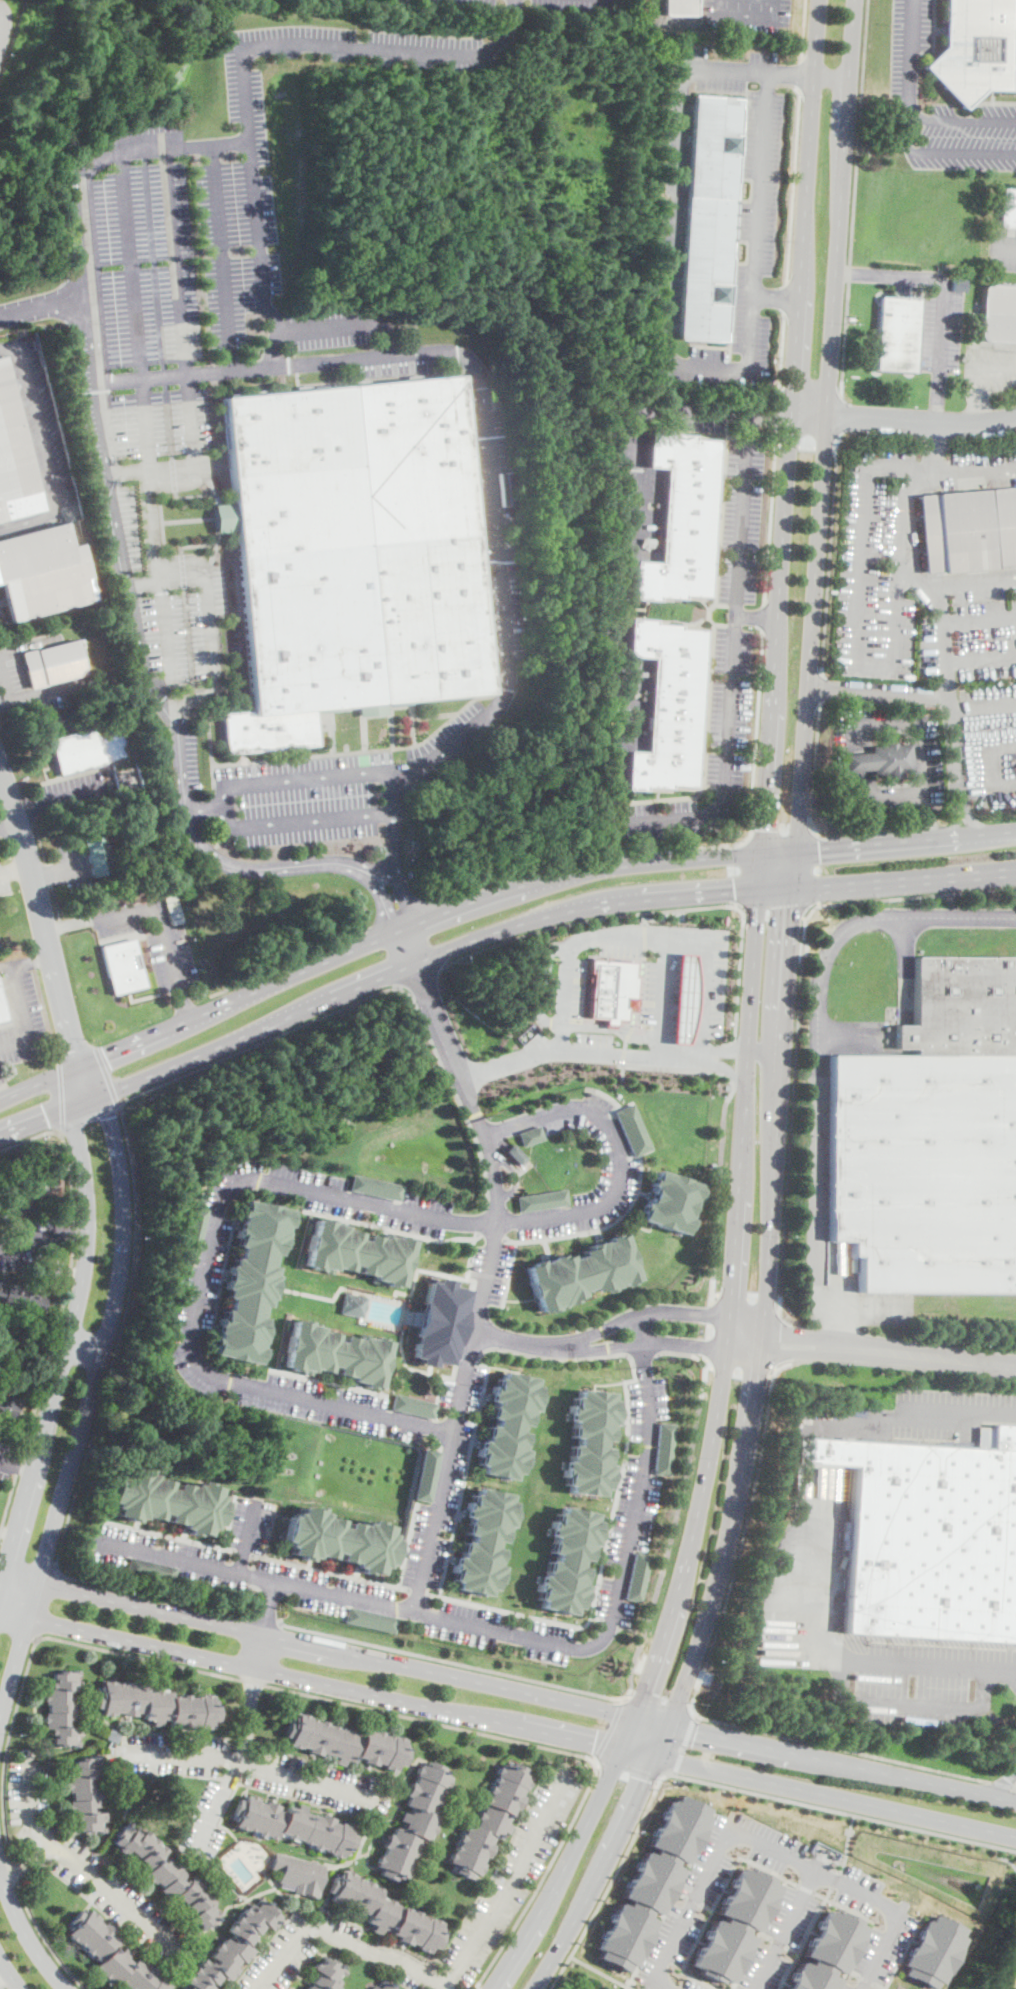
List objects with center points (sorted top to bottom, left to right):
parking lot: (474, 1)
parking lot: (582, 5)
building: (680, 8)
parking lot: (745, 15)
road: (747, 17)
road: (803, 30)
road: (934, 32)
parking lot: (376, 45)
parking lot: (907, 46)
building: (976, 48)
road: (417, 52)
road: (907, 57)
road: (725, 68)
parking lot: (723, 69)
road: (790, 74)
road: (799, 75)
road: (831, 77)
road: (961, 116)
parking lot: (960, 135)
road: (944, 152)
road: (791, 186)
road: (852, 202)
building: (1008, 209)
road: (675, 215)
building: (708, 217)
road: (255, 231)
road: (1002, 247)
parking lot: (1002, 248)
parking lot: (750, 251)
road: (220, 254)
road: (757, 263)
road: (862, 272)
parking lot: (188, 283)
road: (777, 297)
road: (784, 299)
road: (944, 299)
road: (45, 305)
road: (798, 308)
building: (998, 313)
road: (178, 326)
parking lot: (939, 330)
building: (898, 334)
road: (271, 341)
road: (327, 359)
road: (780, 360)
road: (983, 367)
parking lot: (987, 372)
road: (182, 374)
road: (937, 398)
road: (977, 410)
road: (769, 416)
road: (838, 416)
parking lot: (702, 417)
road: (808, 417)
road: (103, 418)
road: (775, 419)
road: (921, 424)
road: (825, 425)
parking lot: (41, 426)
road: (45, 446)
road: (934, 447)
building: (14, 458)
road: (744, 460)
parking lot: (965, 468)
road: (975, 471)
building: (681, 518)
road: (770, 519)
parking lot: (740, 521)
building: (968, 530)
parking lot: (496, 533)
road: (497, 548)
road: (828, 548)
building: (352, 554)
parking lot: (878, 564)
building: (43, 573)
road: (142, 582)
road: (202, 582)
road: (955, 582)
parking lot: (172, 596)
road: (939, 601)
parking lot: (1, 614)
road: (756, 616)
road: (762, 619)
parking lot: (968, 623)
road: (165, 631)
road: (623, 637)
road: (942, 638)
road: (1, 643)
road: (26, 645)
road: (853, 646)
building: (52, 664)
road: (4, 680)
road: (818, 686)
road: (40, 690)
road: (877, 690)
building: (669, 705)
road: (918, 708)
road: (982, 708)
road: (917, 727)
road: (950, 728)
road: (769, 735)
road: (176, 737)
parking lot: (448, 738)
parking lot: (990, 742)
building: (88, 747)
parking lot: (707, 751)
parking lot: (188, 755)
parking lot: (926, 759)
building: (881, 760)
road: (855, 763)
road: (989, 763)
road: (727, 767)
road: (813, 770)
road: (298, 774)
parking lot: (858, 786)
parking lot: (79, 789)
road: (60, 796)
parking lot: (299, 796)
road: (897, 796)
road: (752, 800)
road: (953, 816)
road: (968, 816)
road: (928, 817)
road: (304, 818)
road: (9, 822)
traffic signals: (763, 828)
road: (781, 832)
road: (38, 839)
road: (904, 841)
building: (415, 844)
traffic signals: (818, 849)
road: (778, 852)
road: (610, 854)
building: (97, 855)
parking lot: (74, 866)
road: (812, 866)
road: (15, 867)
road: (792, 869)
road: (57, 870)
road: (377, 870)
road: (515, 870)
road: (48, 873)
road: (738, 874)
road: (759, 879)
road: (903, 880)
parking lot: (4, 881)
road: (401, 887)
traffic signals: (732, 893)
road: (55, 901)
road: (785, 903)
road: (749, 906)
traffic signals: (788, 907)
road: (161, 914)
road: (385, 914)
road: (402, 914)
road: (42, 915)
road: (653, 917)
road: (581, 919)
road: (69, 924)
road: (624, 935)
parking lot: (155, 936)
road: (644, 940)
road: (371, 942)
parking lot: (621, 949)
road: (32, 962)
road: (290, 963)
building: (123, 966)
road: (385, 976)
road: (421, 977)
road: (738, 977)
road: (704, 978)
parking lot: (717, 983)
parking lot: (570, 988)
building: (611, 988)
parking lot: (653, 994)
road: (751, 995)
building: (685, 997)
road: (780, 999)
building: (961, 1006)
road: (183, 1007)
building: (1, 1013)
road: (797, 1014)
road: (22, 1016)
parking lot: (21, 1020)
road: (439, 1021)
road: (558, 1024)
road: (629, 1032)
parking lot: (595, 1043)
road: (625, 1044)
road: (581, 1048)
traffic signals: (77, 1049)
road: (726, 1050)
road: (762, 1051)
road: (817, 1051)
road: (76, 1052)
traffic signals: (106, 1055)
road: (623, 1056)
road: (718, 1057)
road: (687, 1068)
road: (727, 1069)
road: (105, 1074)
road: (157, 1083)
building: (727, 1084)
road: (3, 1093)
road: (60, 1093)
road: (120, 1104)
road: (90, 1115)
traffic signals: (47, 1116)
traffic signals: (110, 1118)
building: (633, 1129)
road: (61, 1131)
building: (529, 1135)
building: (512, 1154)
road: (617, 1155)
parking lot: (619, 1164)
building: (925, 1171)
building: (374, 1187)
building: (26, 1197)
road: (716, 1199)
building: (540, 1200)
building: (670, 1201)
road: (737, 1209)
road: (769, 1225)
building: (194, 1232)
road: (44, 1238)
parking lot: (31, 1239)
building: (358, 1252)
parking lot: (490, 1270)
building: (582, 1272)
road: (203, 1274)
building: (251, 1281)
parking lot: (198, 1291)
building: (21, 1298)
road: (744, 1299)
road: (61, 1302)
building: (355, 1304)
road: (682, 1315)
building: (440, 1323)
road: (708, 1329)
road: (71, 1331)
road: (637, 1331)
road: (592, 1334)
road: (745, 1336)
road: (778, 1337)
road: (515, 1340)
road: (685, 1340)
road: (800, 1341)
road: (85, 1345)
road: (477, 1345)
road: (799, 1348)
road: (595, 1350)
road: (641, 1352)
building: (336, 1353)
road: (927, 1353)
road: (741, 1366)
road: (89, 1393)
building: (414, 1405)
building: (7, 1406)
parking lot: (343, 1406)
road: (923, 1408)
road: (753, 1410)
parking lot: (912, 1417)
parking lot: (645, 1421)
road: (764, 1423)
building: (508, 1425)
road: (715, 1434)
building: (590, 1441)
building: (665, 1448)
parking lot: (6, 1459)
road: (16, 1464)
building: (427, 1474)
building: (165, 1500)
road: (679, 1500)
parking lot: (437, 1507)
parking lot: (247, 1523)
road: (268, 1529)
road: (8, 1531)
road: (166, 1533)
road: (245, 1534)
building: (929, 1537)
building: (339, 1539)
building: (483, 1540)
parking lot: (626, 1541)
road: (241, 1549)
parking lot: (173, 1555)
building: (568, 1560)
building: (150, 1569)
road: (329, 1569)
parking lot: (808, 1570)
road: (442, 1572)
building: (638, 1576)
parking lot: (320, 1587)
road: (416, 1589)
road: (432, 1592)
road: (713, 1594)
road: (152, 1595)
road: (46, 1603)
road: (131, 1605)
road: (268, 1607)
road: (595, 1616)
road: (262, 1619)
building: (371, 1619)
road: (609, 1620)
parking lot: (486, 1626)
road: (630, 1627)
road: (500, 1629)
parking lot: (594, 1638)
road: (662, 1642)
road: (259, 1651)
road: (840, 1659)
road: (453, 1660)
road: (200, 1670)
road: (255, 1675)
road: (448, 1675)
parking lot: (918, 1677)
road: (307, 1679)
traffic signals: (646, 1688)
road: (651, 1702)
building: (157, 1705)
road: (683, 1705)
road: (914, 1706)
building: (61, 1708)
road: (651, 1721)
road: (607, 1729)
road: (666, 1730)
traffic signals: (696, 1731)
traffic signals: (594, 1741)
road: (682, 1742)
building: (346, 1743)
road: (841, 1748)
road: (639, 1752)
road: (222, 1759)
road: (842, 1763)
road: (628, 1766)
parking lot: (255, 1772)
traffic signals: (645, 1780)
road: (304, 1781)
road: (1002, 1785)
road: (1007, 1785)
building: (85, 1795)
road: (835, 1796)
road: (218, 1802)
road: (843, 1810)
parking lot: (210, 1818)
road: (589, 1818)
building: (489, 1821)
building: (413, 1822)
building: (293, 1825)
road: (619, 1830)
road: (844, 1843)
road: (768, 1845)
road: (27, 1862)
road: (78, 1866)
parking lot: (88, 1867)
building: (298, 1874)
building: (167, 1875)
parking lot: (513, 1876)
road: (834, 1879)
road: (541, 1880)
road: (612, 1880)
building: (653, 1882)
road: (507, 1886)
road: (805, 1888)
road: (683, 1894)
road: (673, 1898)
parking lot: (863, 1899)
road: (696, 1900)
road: (717, 1903)
road: (709, 1907)
building: (385, 1913)
building: (736, 1924)
road: (867, 1926)
road: (785, 1928)
road: (25, 1931)
road: (759, 1933)
road: (42, 1934)
parking lot: (780, 1936)
road: (805, 1937)
road: (524, 1938)
building: (232, 1947)
road: (558, 1947)
building: (932, 1950)
parking lot: (296, 1951)
building: (826, 1951)
road: (377, 1953)
building: (111, 1954)
road: (899, 1954)
road: (280, 1957)
parking lot: (872, 1958)
road: (599, 1970)
road: (9, 1973)
road: (851, 1973)
building: (325, 1975)
road: (5, 1977)
road: (864, 1979)
building: (385, 1985)
parking lot: (690, 1985)
road: (877, 1986)
road: (1, 1987)
road: (632, 1987)
building: (293, 1988)
road: (444, 1988)
road: (1015, 1988)

